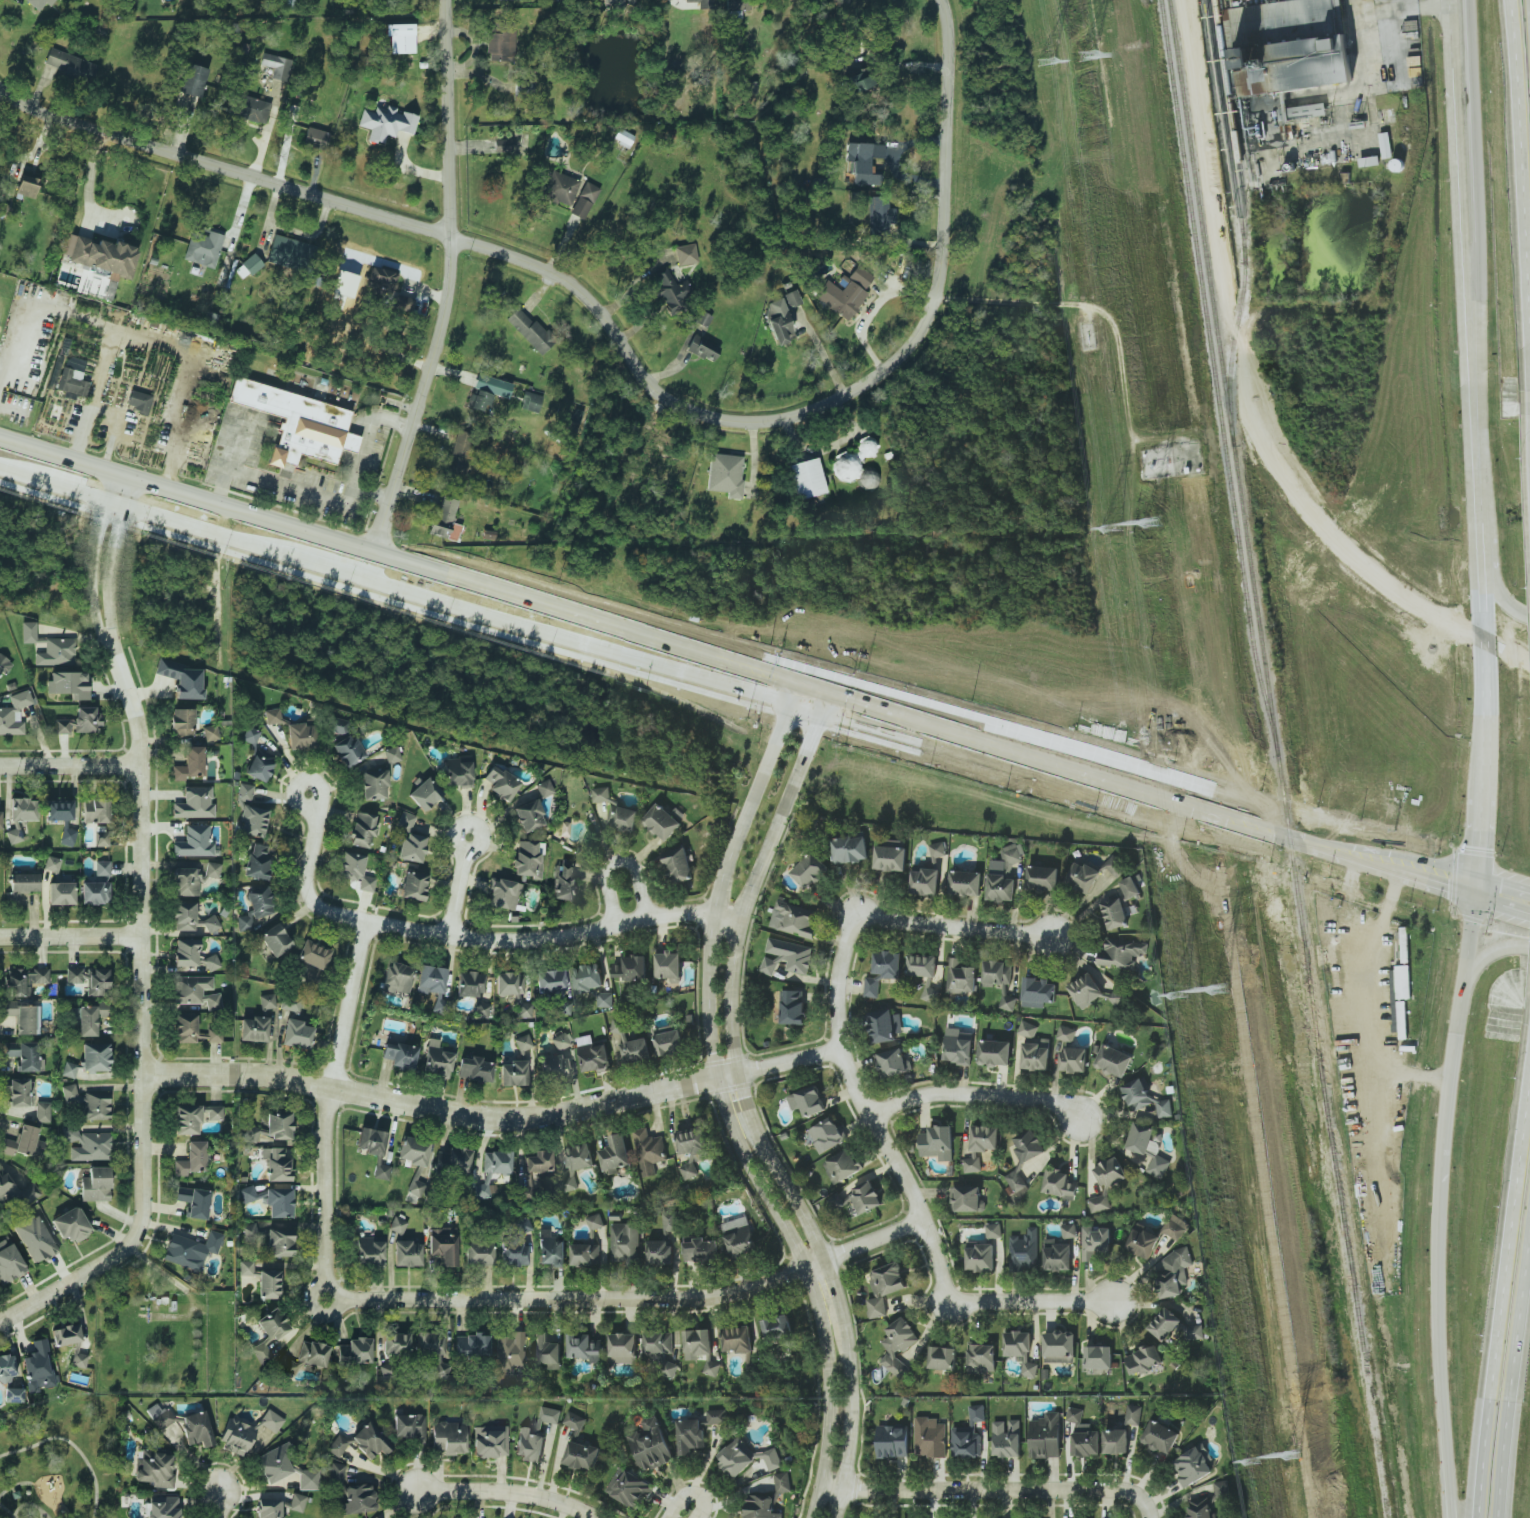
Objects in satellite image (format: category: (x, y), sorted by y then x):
building: (40, 2)
building: (619, 3)
building: (702, 3)
building: (399, 38)
road: (1455, 38)
road: (1460, 38)
building: (500, 42)
power tower: (1085, 56)
road: (873, 60)
power tower: (1045, 61)
building: (70, 65)
building: (277, 66)
building: (1295, 70)
building: (859, 82)
building: (253, 109)
building: (386, 122)
railway: (1234, 131)
building: (315, 138)
building: (501, 145)
building: (863, 162)
building: (27, 185)
building: (559, 187)
building: (584, 200)
railway: (1241, 222)
building: (203, 247)
building: (288, 253)
building: (685, 254)
building: (101, 256)
building: (249, 265)
building: (668, 291)
building: (844, 294)
road: (451, 295)
building: (403, 303)
building: (780, 316)
building: (529, 330)
road: (625, 341)
road: (152, 342)
building: (700, 345)
railway: (1216, 378)
building: (72, 382)
building: (492, 386)
building: (138, 401)
building: (479, 401)
building: (298, 423)
road: (113, 429)
building: (461, 444)
road: (366, 452)
building: (847, 469)
building: (725, 475)
road: (1480, 476)
building: (806, 478)
road: (278, 485)
road: (186, 494)
building: (445, 519)
road: (180, 523)
power tower: (1152, 523)
power tower: (1111, 528)
railway: (1338, 539)
road: (1500, 597)
building: (28, 632)
road: (591, 644)
building: (56, 652)
building: (3, 666)
railway: (1265, 669)
building: (181, 678)
building: (69, 684)
building: (13, 714)
building: (272, 716)
building: (182, 721)
road: (860, 721)
building: (78, 722)
building: (336, 727)
building: (210, 733)
building: (251, 736)
building: (301, 736)
building: (392, 754)
building: (189, 764)
road: (69, 766)
building: (259, 767)
building: (457, 772)
building: (500, 782)
building: (374, 784)
building: (544, 788)
road: (1104, 788)
building: (245, 792)
building: (425, 793)
building: (194, 803)
road: (318, 804)
building: (23, 809)
building: (616, 810)
building: (95, 812)
building: (528, 816)
building: (64, 818)
building: (0, 819)
building: (405, 820)
building: (252, 821)
building: (662, 822)
building: (362, 829)
building: (562, 829)
building: (14, 836)
building: (101, 839)
building: (194, 841)
road: (473, 845)
building: (412, 847)
building: (851, 849)
building: (938, 849)
road: (1397, 853)
building: (891, 858)
building: (527, 859)
road: (618, 861)
building: (257, 862)
building: (52, 864)
building: (679, 865)
building: (1115, 866)
building: (356, 870)
building: (101, 871)
building: (811, 871)
road: (139, 873)
building: (1003, 876)
road: (1421, 876)
building: (193, 878)
building: (1084, 878)
building: (1043, 879)
building: (566, 881)
building: (926, 881)
building: (965, 884)
building: (21, 885)
road: (1478, 885)
road: (1504, 885)
building: (413, 886)
building: (1131, 887)
road: (456, 892)
building: (61, 893)
building: (94, 893)
building: (503, 894)
traffic signals: (1477, 894)
building: (254, 909)
building: (1115, 913)
building: (797, 919)
building: (191, 920)
road: (955, 925)
road: (69, 936)
road: (475, 938)
building: (275, 940)
building: (1121, 953)
building: (188, 954)
building: (312, 955)
building: (787, 957)
road: (1484, 960)
building: (212, 962)
building: (888, 964)
building: (922, 966)
building: (669, 967)
building: (631, 968)
building: (998, 973)
building: (397, 977)
building: (962, 977)
building: (430, 979)
building: (24, 980)
building: (89, 980)
building: (550, 981)
building: (471, 983)
building: (510, 983)
building: (592, 983)
building: (873, 987)
power tower: (1218, 989)
building: (1086, 990)
building: (194, 991)
building: (1039, 992)
power tower: (1178, 994)
building: (1117, 998)
building: (267, 1001)
building: (1009, 1003)
building: (290, 1005)
building: (523, 1007)
building: (794, 1007)
building: (23, 1017)
building: (90, 1018)
building: (253, 1029)
building: (1029, 1029)
building: (193, 1030)
building: (1067, 1033)
building: (296, 1034)
building: (522, 1042)
building: (669, 1042)
building: (632, 1045)
building: (958, 1046)
building: (995, 1053)
building: (24, 1055)
building: (400, 1055)
building: (593, 1055)
building: (1036, 1055)
building: (95, 1057)
building: (558, 1057)
building: (436, 1059)
building: (1074, 1059)
building: (1114, 1061)
building: (893, 1062)
building: (474, 1069)
building: (69, 1070)
building: (513, 1073)
building: (18, 1092)
road: (975, 1097)
building: (1146, 1099)
building: (808, 1101)
building: (87, 1103)
building: (42, 1111)
road: (727, 1112)
road: (867, 1112)
road: (491, 1116)
road: (751, 1116)
building: (193, 1117)
building: (278, 1126)
building: (253, 1132)
building: (827, 1135)
building: (1141, 1138)
building: (20, 1142)
building: (938, 1143)
building: (86, 1144)
building: (374, 1149)
building: (693, 1150)
building: (414, 1151)
building: (647, 1152)
building: (616, 1154)
building: (1022, 1155)
building: (580, 1157)
building: (191, 1159)
building: (453, 1161)
building: (538, 1161)
building: (276, 1163)
building: (843, 1166)
building: (1157, 1166)
building: (491, 1169)
building: (95, 1184)
building: (1107, 1184)
building: (1060, 1185)
building: (6, 1186)
building: (415, 1187)
building: (249, 1194)
building: (866, 1197)
building: (967, 1198)
building: (193, 1201)
building: (279, 1203)
road: (1431, 1205)
building: (595, 1222)
building: (670, 1223)
building: (71, 1225)
building: (397, 1225)
building: (1176, 1227)
building: (994, 1230)
building: (1069, 1230)
building: (249, 1232)
building: (739, 1237)
building: (35, 1239)
building: (279, 1242)
building: (1096, 1242)
building: (626, 1243)
building: (1143, 1243)
building: (444, 1246)
building: (551, 1249)
building: (190, 1250)
building: (701, 1250)
building: (369, 1251)
building: (1024, 1251)
building: (660, 1252)
building: (407, 1253)
building: (478, 1253)
building: (513, 1254)
building: (1058, 1254)
building: (980, 1255)
building: (9, 1261)
building: (245, 1268)
building: (1174, 1273)
building: (268, 1284)
building: (885, 1287)
road: (45, 1289)
road: (434, 1301)
road: (1032, 1301)
building: (1165, 1324)
building: (778, 1327)
building: (1195, 1330)
building: (269, 1333)
building: (737, 1339)
building: (70, 1342)
building: (698, 1344)
building: (396, 1345)
building: (472, 1345)
building: (899, 1346)
building: (584, 1347)
building: (624, 1348)
building: (509, 1350)
building: (661, 1350)
building: (354, 1351)
building: (546, 1351)
building: (1021, 1351)
building: (433, 1352)
building: (1099, 1357)
building: (305, 1358)
building: (943, 1358)
building: (982, 1358)
building: (1144, 1360)
building: (712, 1366)
building: (38, 1367)
building: (6, 1369)
building: (13, 1395)
building: (977, 1413)
building: (1134, 1415)
building: (159, 1416)
building: (717, 1417)
building: (576, 1419)
building: (270, 1421)
building: (409, 1427)
building: (195, 1429)
building: (690, 1435)
building: (1084, 1435)
building: (1046, 1436)
building: (236, 1437)
building: (448, 1437)
building: (537, 1437)
building: (930, 1437)
building: (1161, 1437)
building: (1007, 1438)
building: (489, 1441)
building: (1116, 1441)
building: (360, 1442)
building: (893, 1442)
building: (967, 1442)
building: (652, 1445)
road: (72, 1446)
building: (582, 1455)
power tower: (1291, 1456)
building: (748, 1458)
power tower: (1253, 1463)
building: (274, 1464)
building: (1192, 1467)
building: (154, 1468)
building: (308, 1479)
building: (783, 1482)
road: (14, 1486)
building: (629, 1488)
building: (1222, 1490)
building: (350, 1492)
road: (508, 1493)
road: (691, 1493)
road: (956, 1493)
road: (1124, 1500)
building: (295, 1502)
road: (28, 1504)
road: (215, 1506)
building: (162, 1507)
building: (761, 1507)
building: (269, 1508)
building: (1201, 1508)
road: (7, 1512)
building: (374, 1517)

